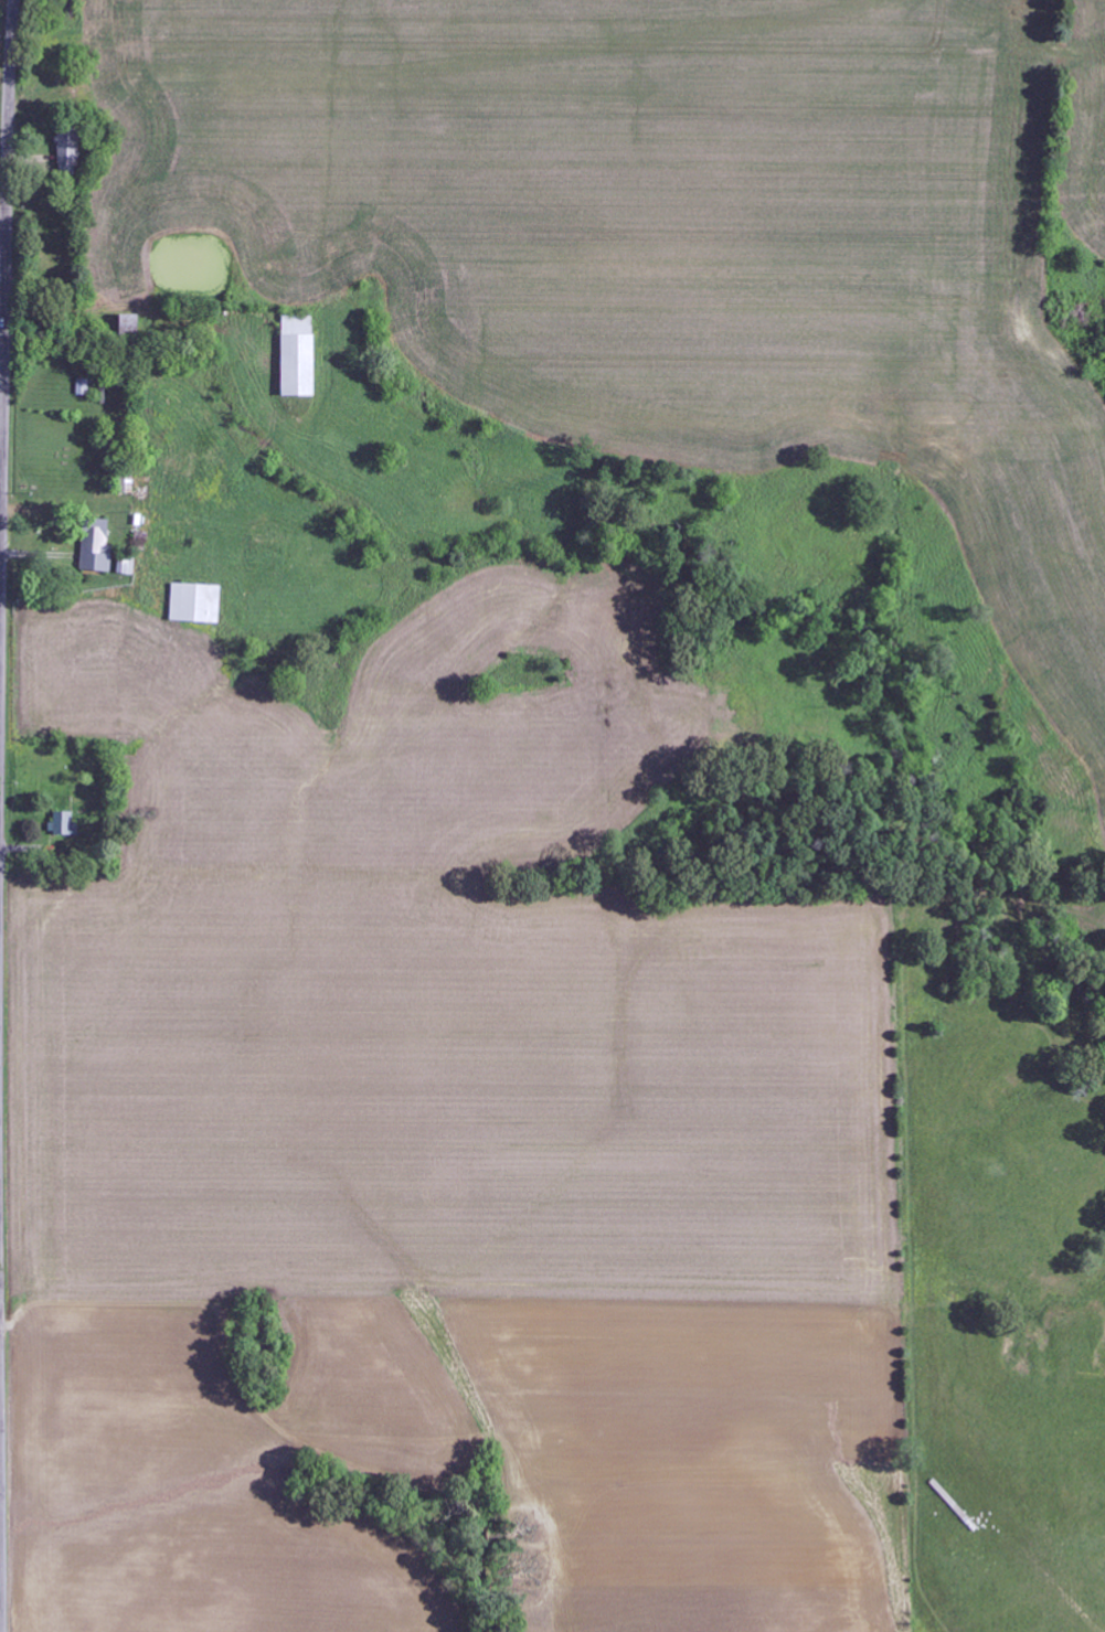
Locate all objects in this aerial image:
building: (70, 152)
road: (4, 308)
building: (134, 324)
building: (300, 356)
building: (98, 548)
building: (126, 567)
building: (64, 824)

